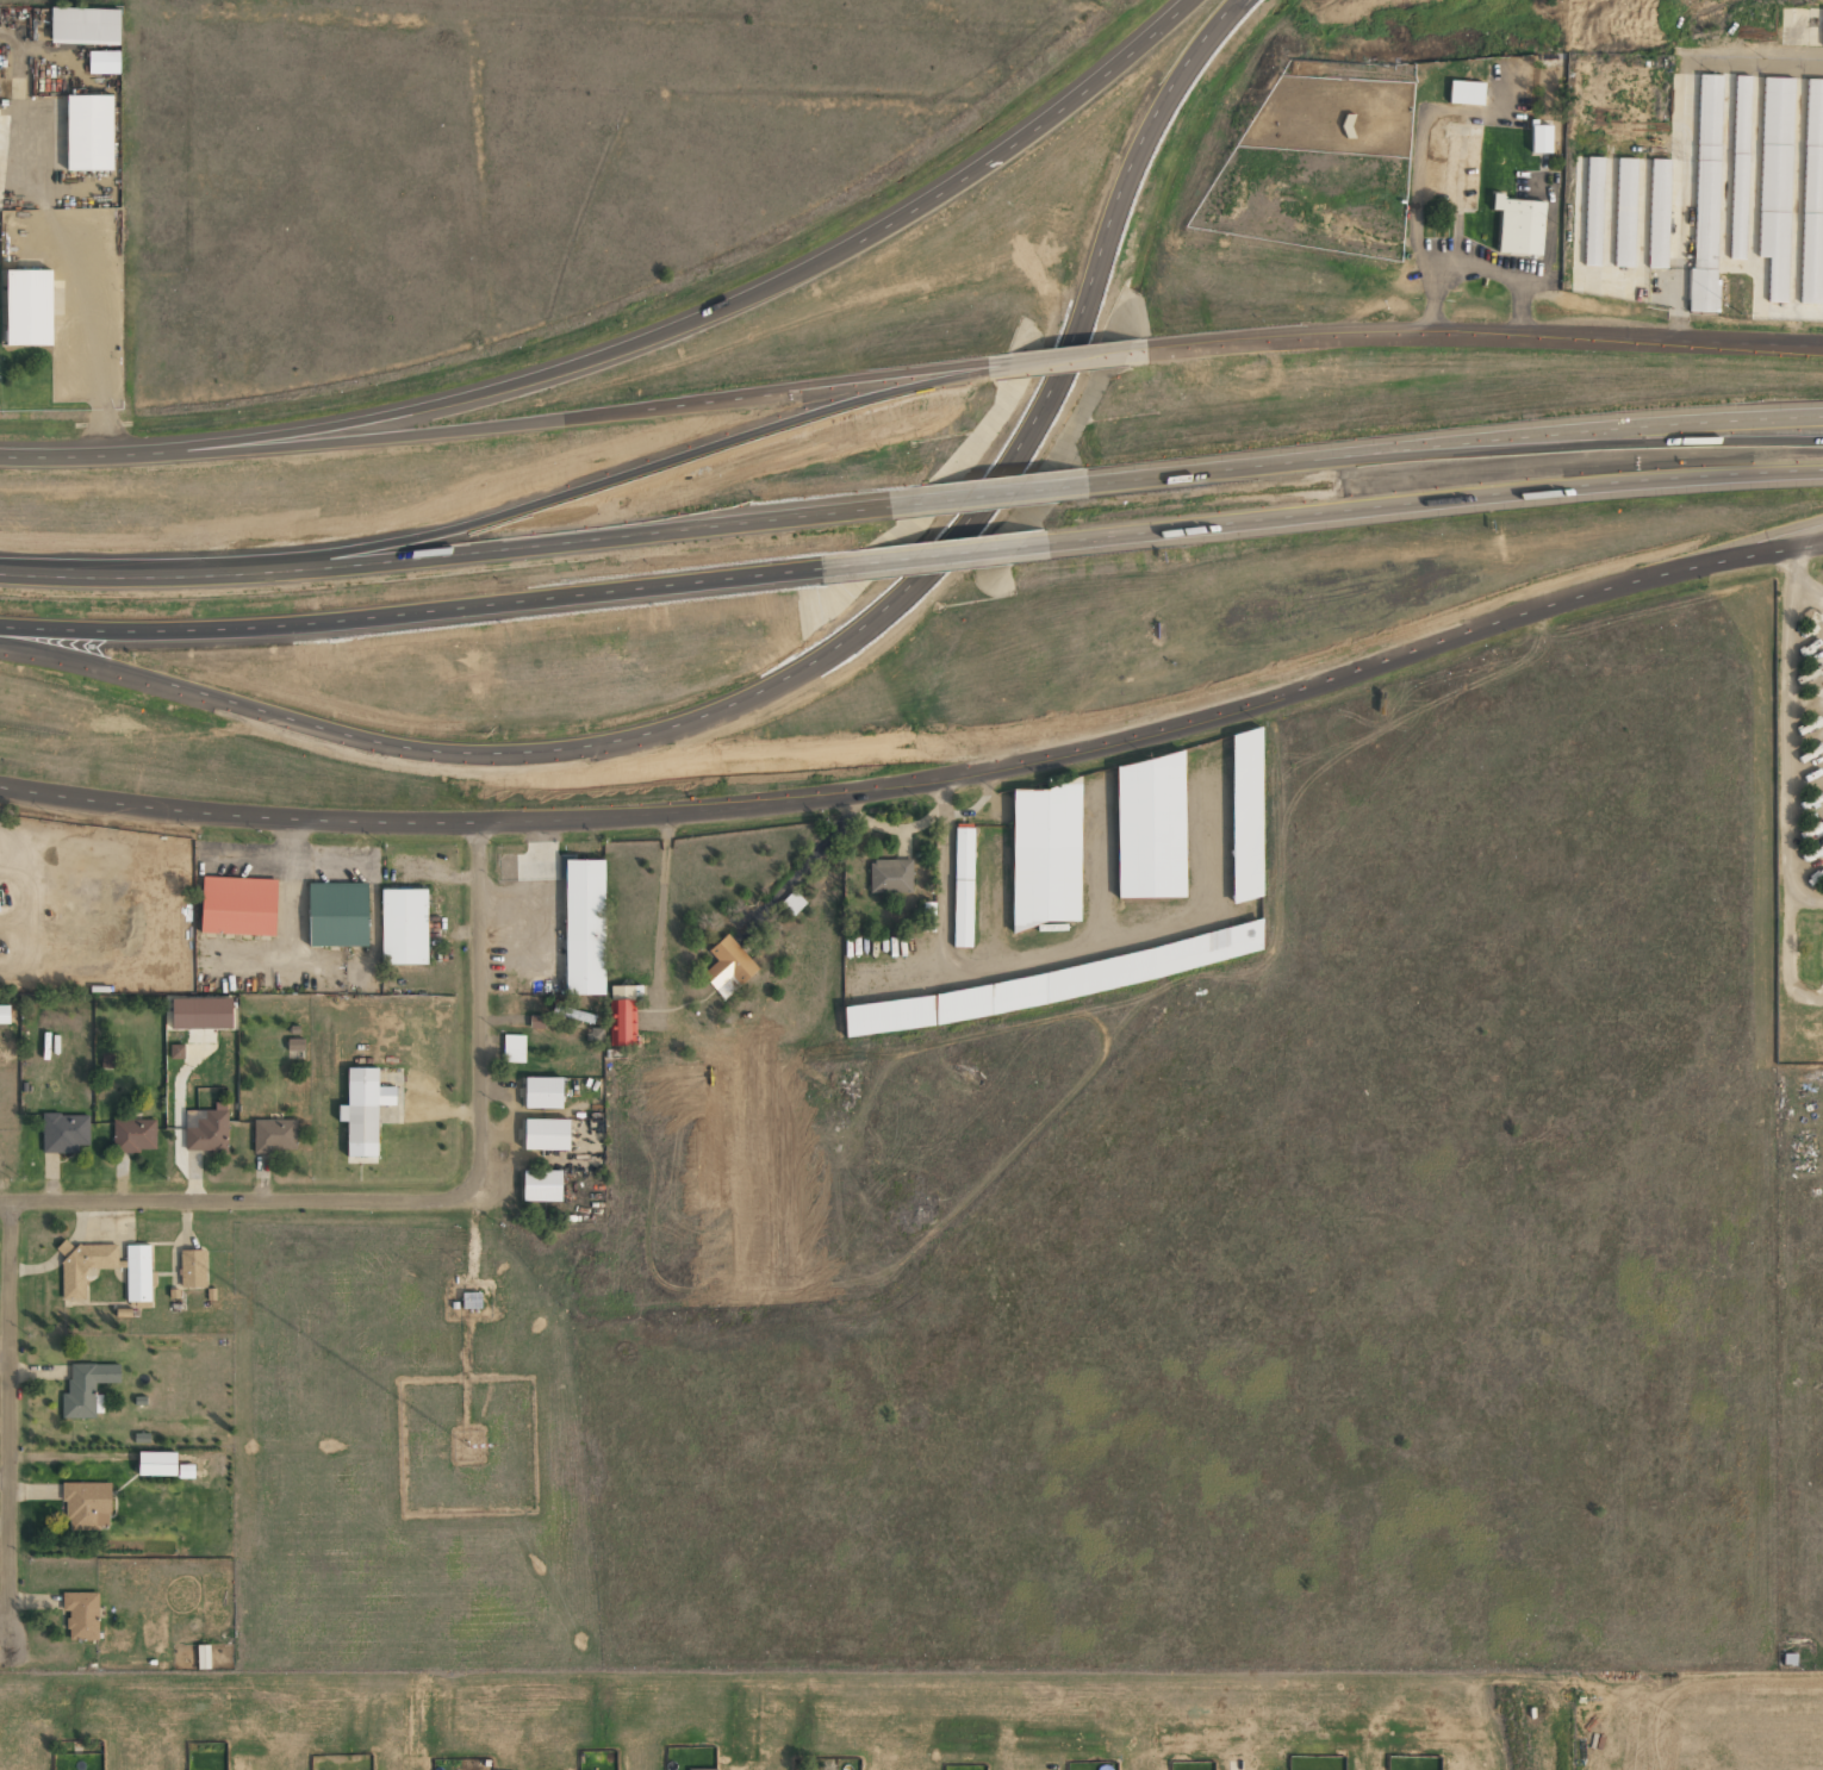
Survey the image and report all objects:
building: (85, 25)
building: (1822, 31)
building: (104, 62)
building: (1466, 92)
building: (89, 132)
building: (1541, 138)
building: (1738, 167)
building: (1774, 183)
building: (1706, 193)
building: (1812, 195)
building: (1593, 211)
building: (1625, 212)
building: (1659, 213)
building: (1519, 225)
road: (760, 291)
building: (29, 307)
road: (1482, 338)
road: (1070, 359)
road: (629, 411)
road: (1457, 445)
road: (130, 454)
road: (1008, 492)
road: (1431, 500)
road: (1746, 543)
road: (947, 554)
road: (462, 557)
road: (428, 611)
road: (1, 642)
road: (792, 669)
road: (925, 781)
building: (1245, 816)
building: (1149, 828)
building: (1045, 854)
building: (890, 875)
building: (962, 886)
building: (238, 905)
building: (337, 914)
building: (928, 916)
building: (403, 927)
building: (585, 927)
building: (728, 967)
road: (480, 1001)
building: (200, 1012)
building: (4, 1014)
building: (623, 1015)
building: (514, 1048)
building: (176, 1051)
building: (542, 1092)
building: (363, 1110)
building: (206, 1130)
building: (64, 1133)
building: (546, 1134)
building: (133, 1135)
building: (274, 1135)
building: (541, 1185)
road: (244, 1197)
building: (85, 1265)
building: (192, 1269)
building: (138, 1273)
building: (83, 1388)
road: (10, 1420)
building: (157, 1463)
building: (87, 1504)
building: (81, 1614)
building: (203, 1657)
building: (702, 1769)

